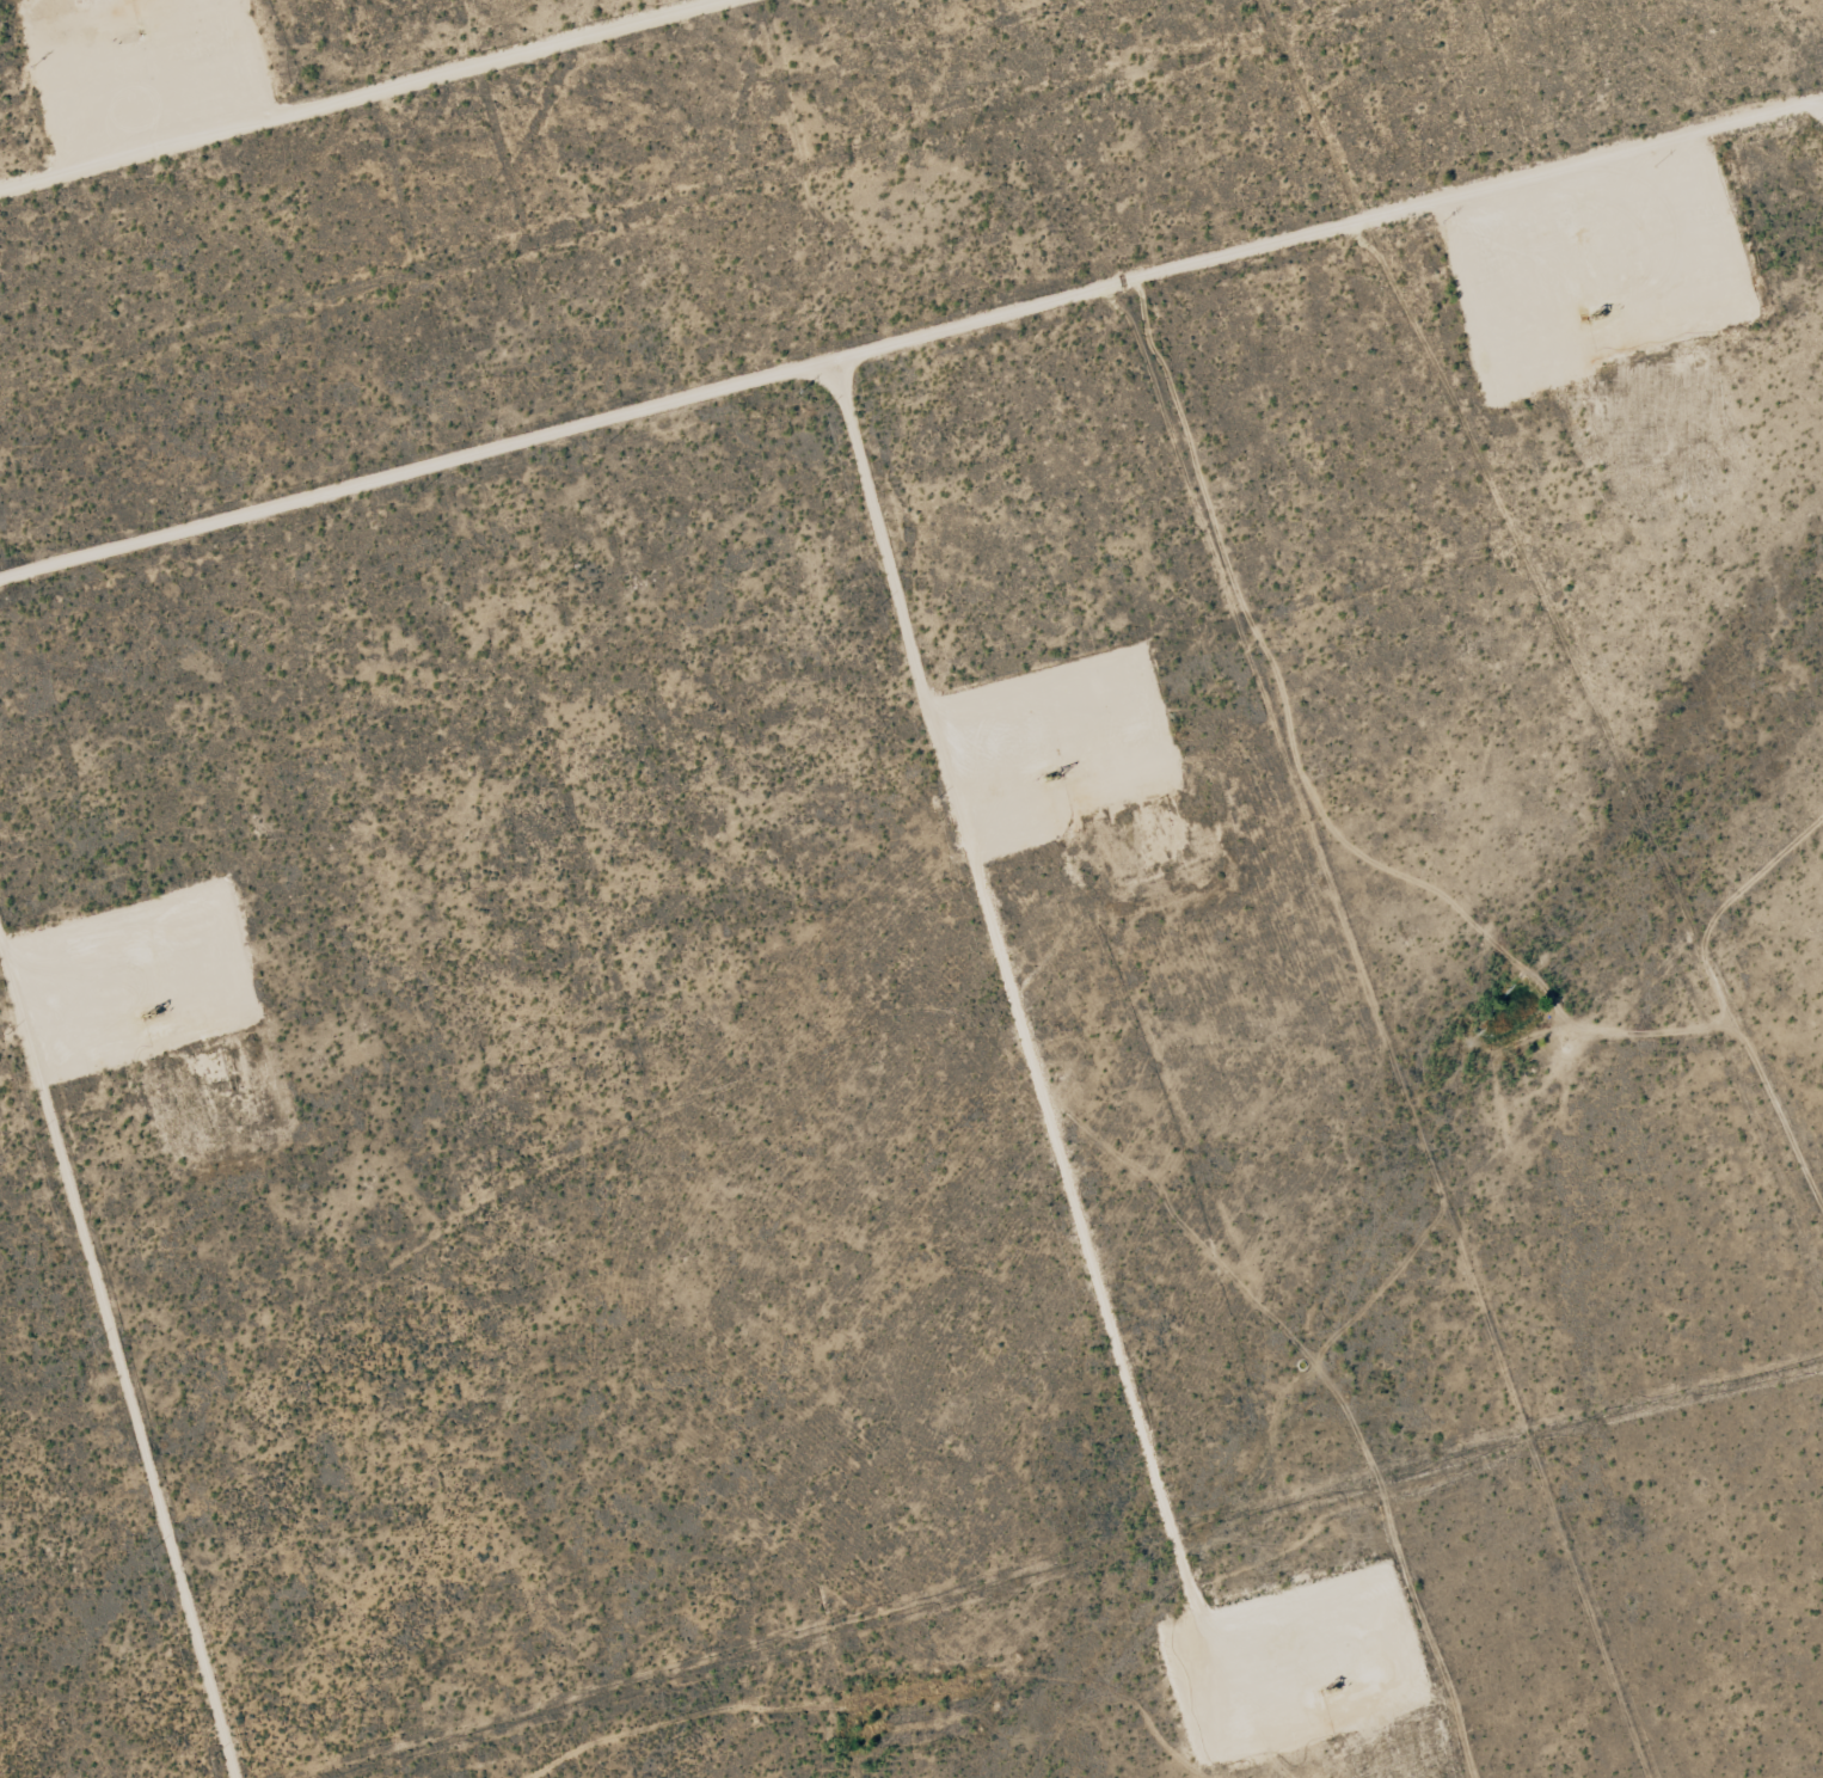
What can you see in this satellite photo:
road: (911, 338)

